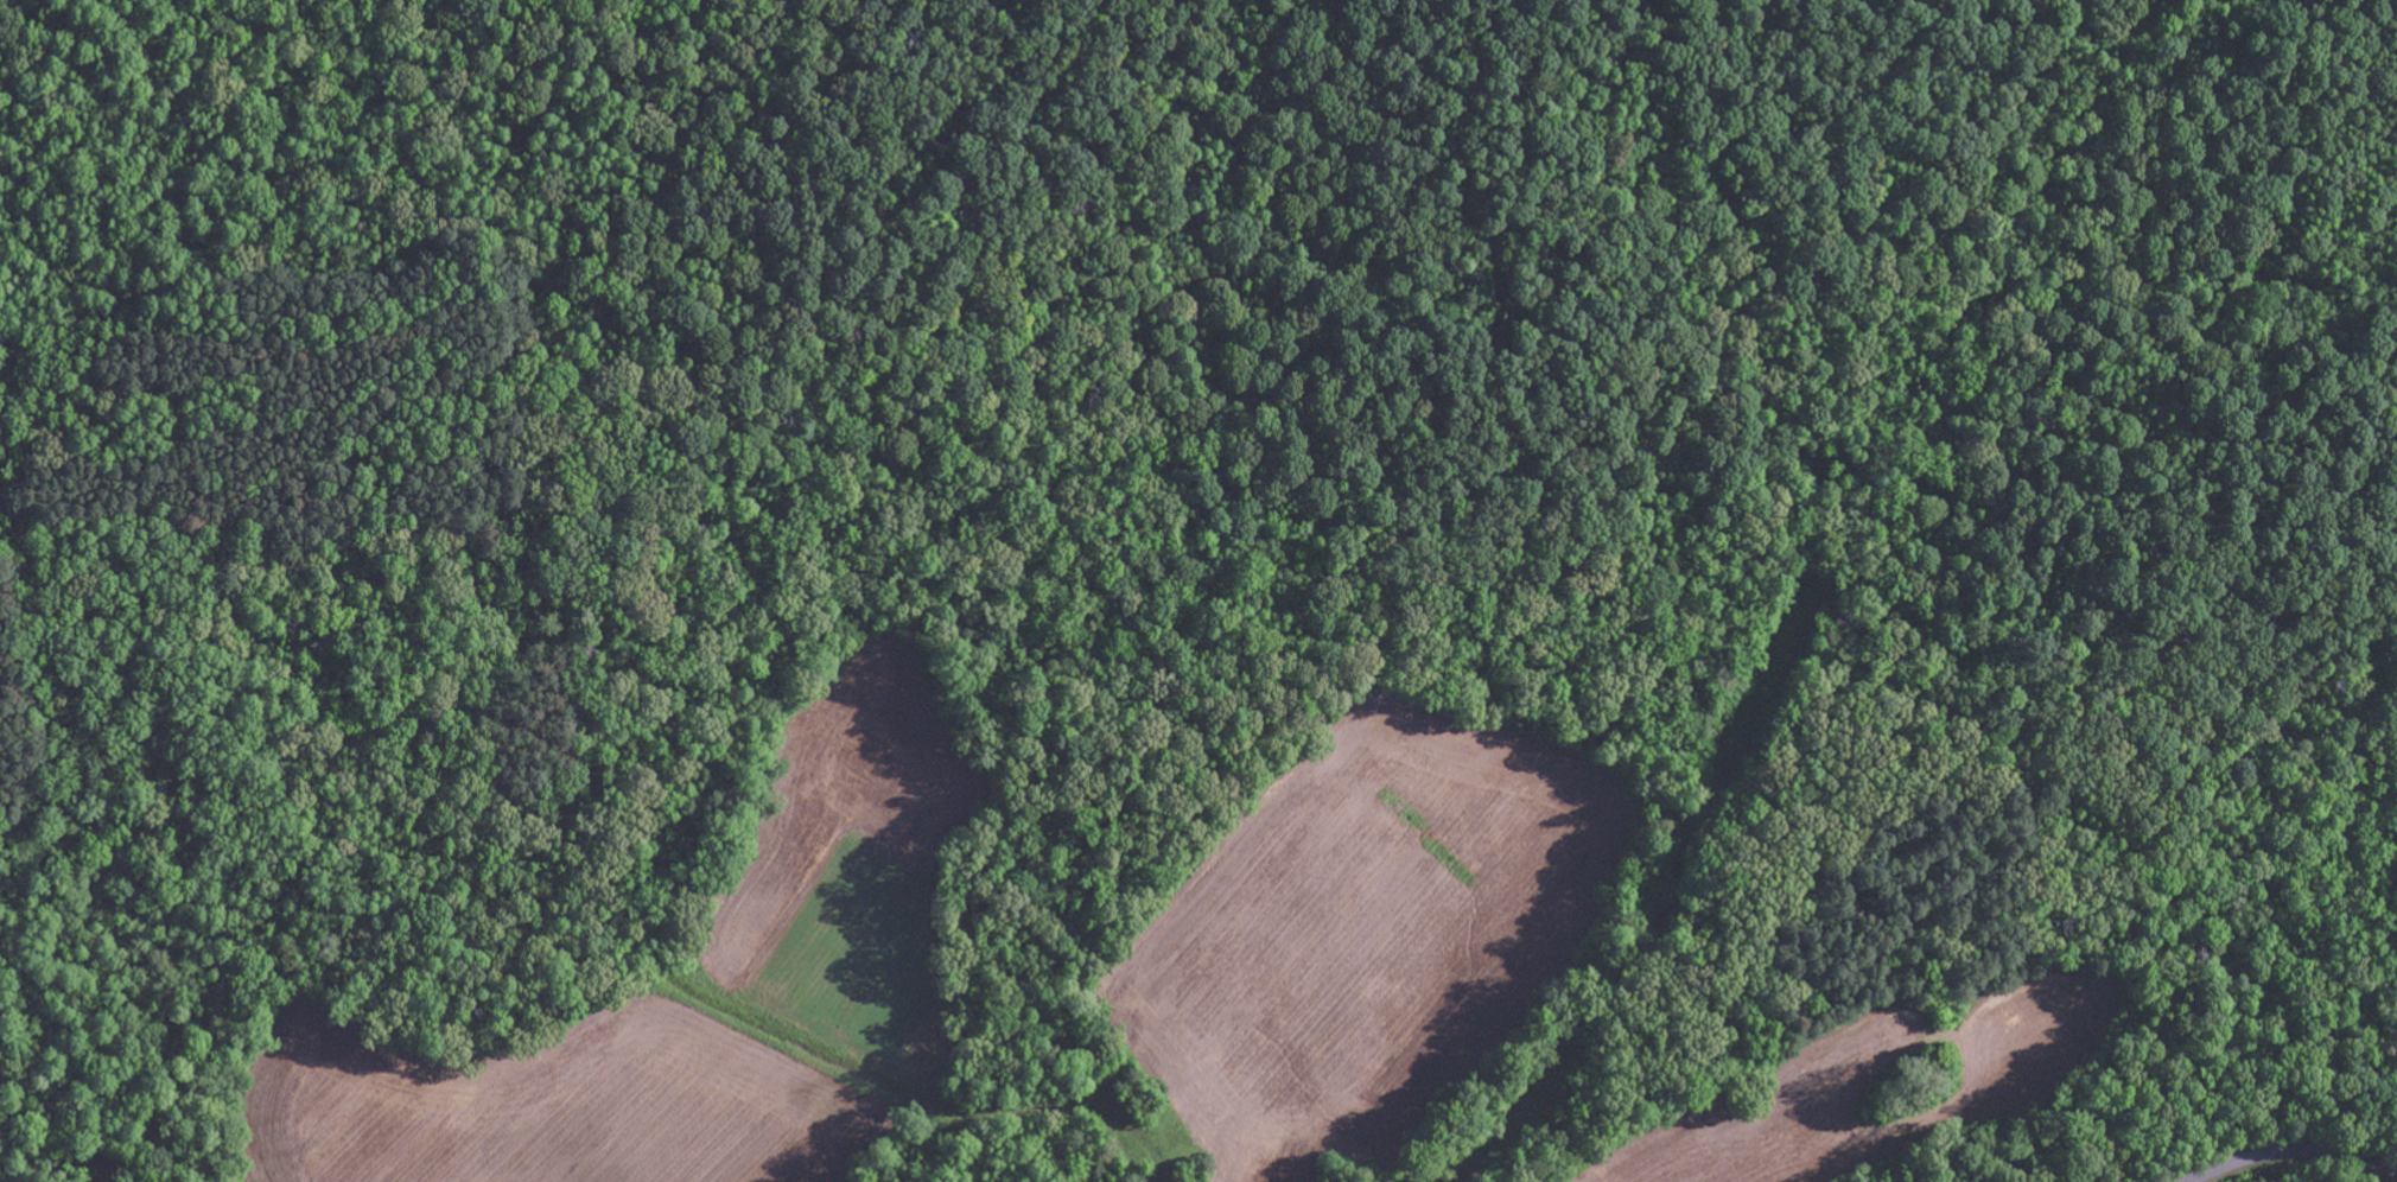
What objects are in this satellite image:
road: (2295, 1154)

